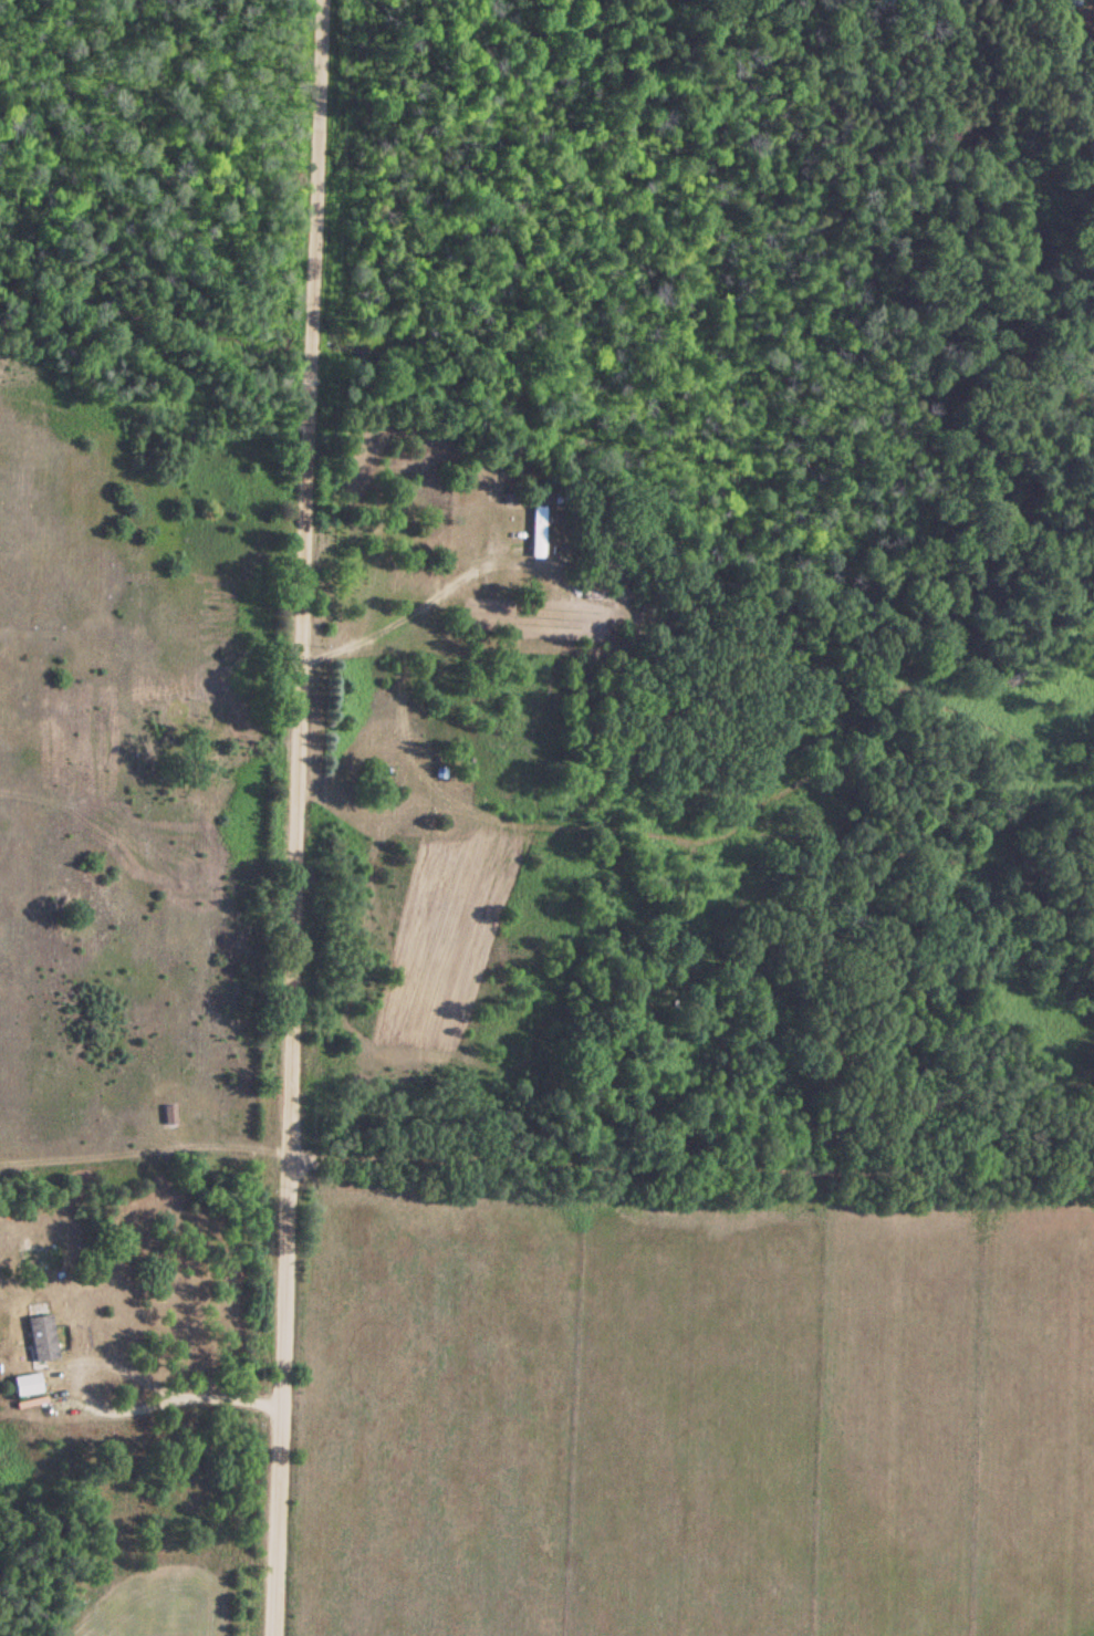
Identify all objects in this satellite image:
building: (534, 531)
road: (285, 817)
road: (685, 1137)
building: (40, 1337)
crop: (698, 1418)
crop: (160, 1607)

